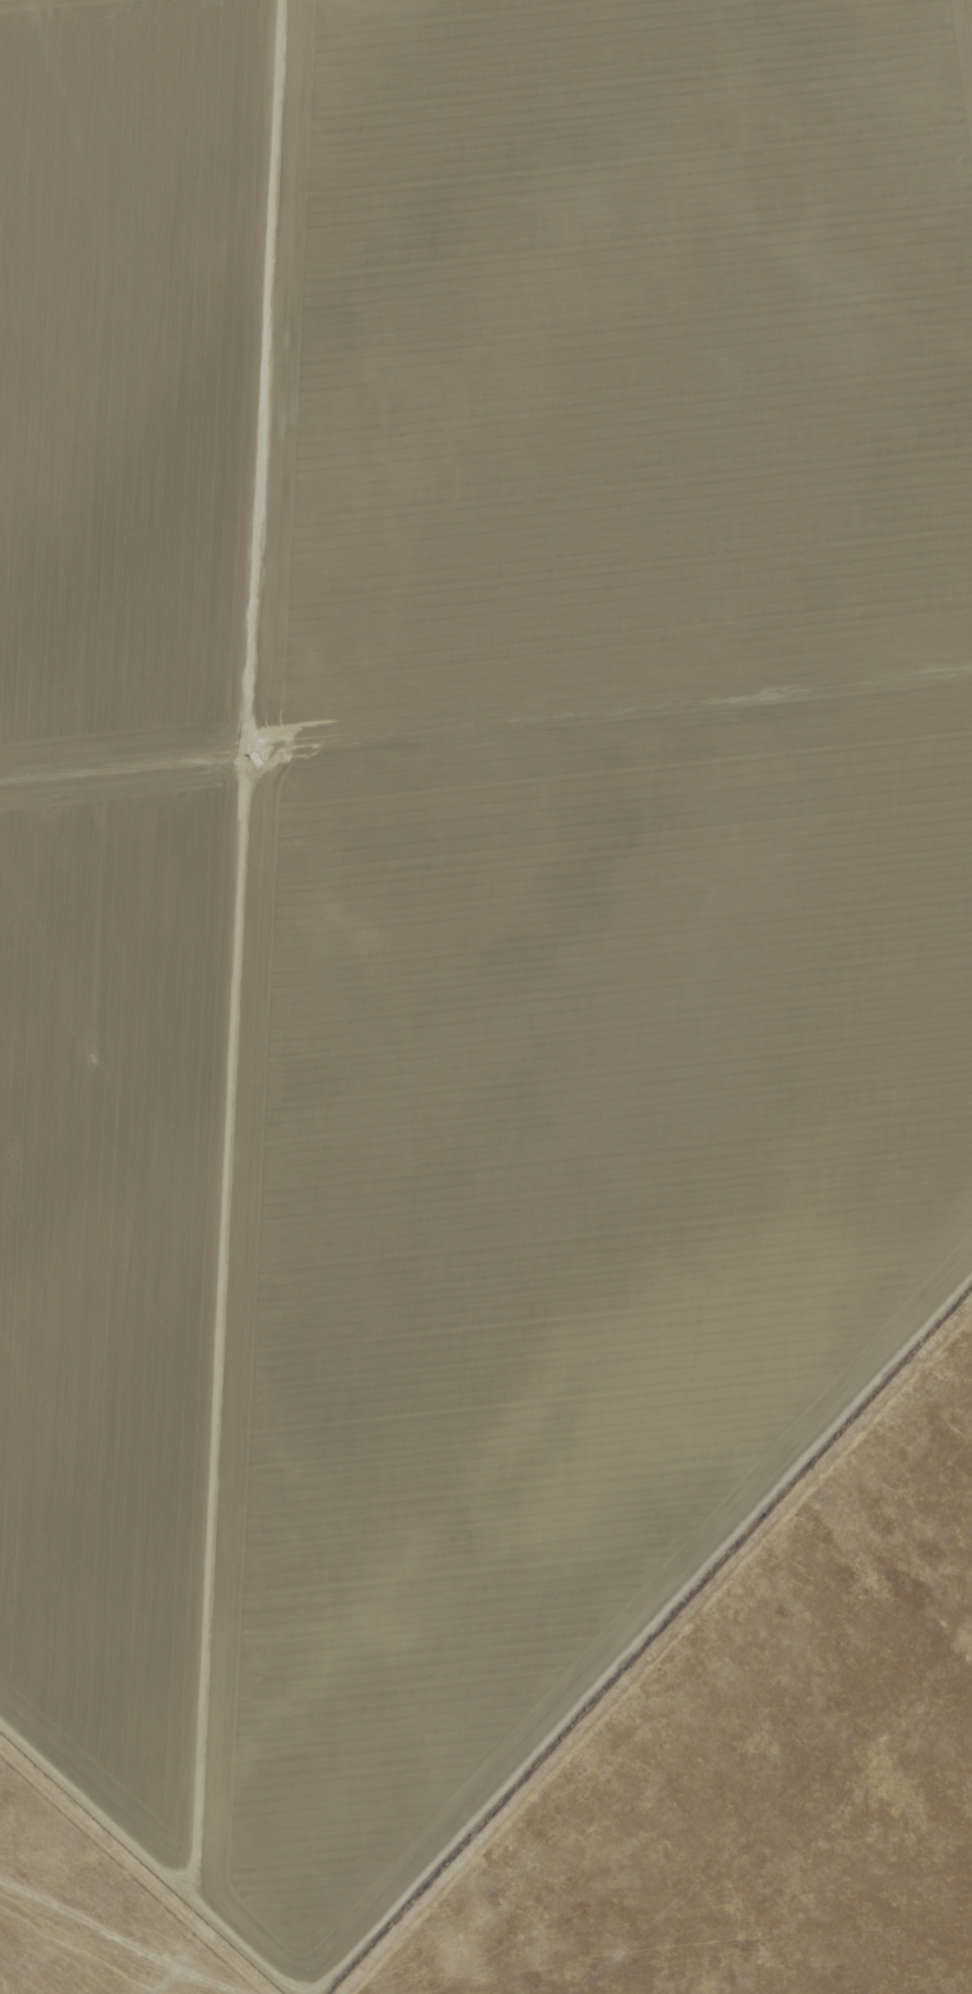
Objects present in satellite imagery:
crop: (463, 797)

